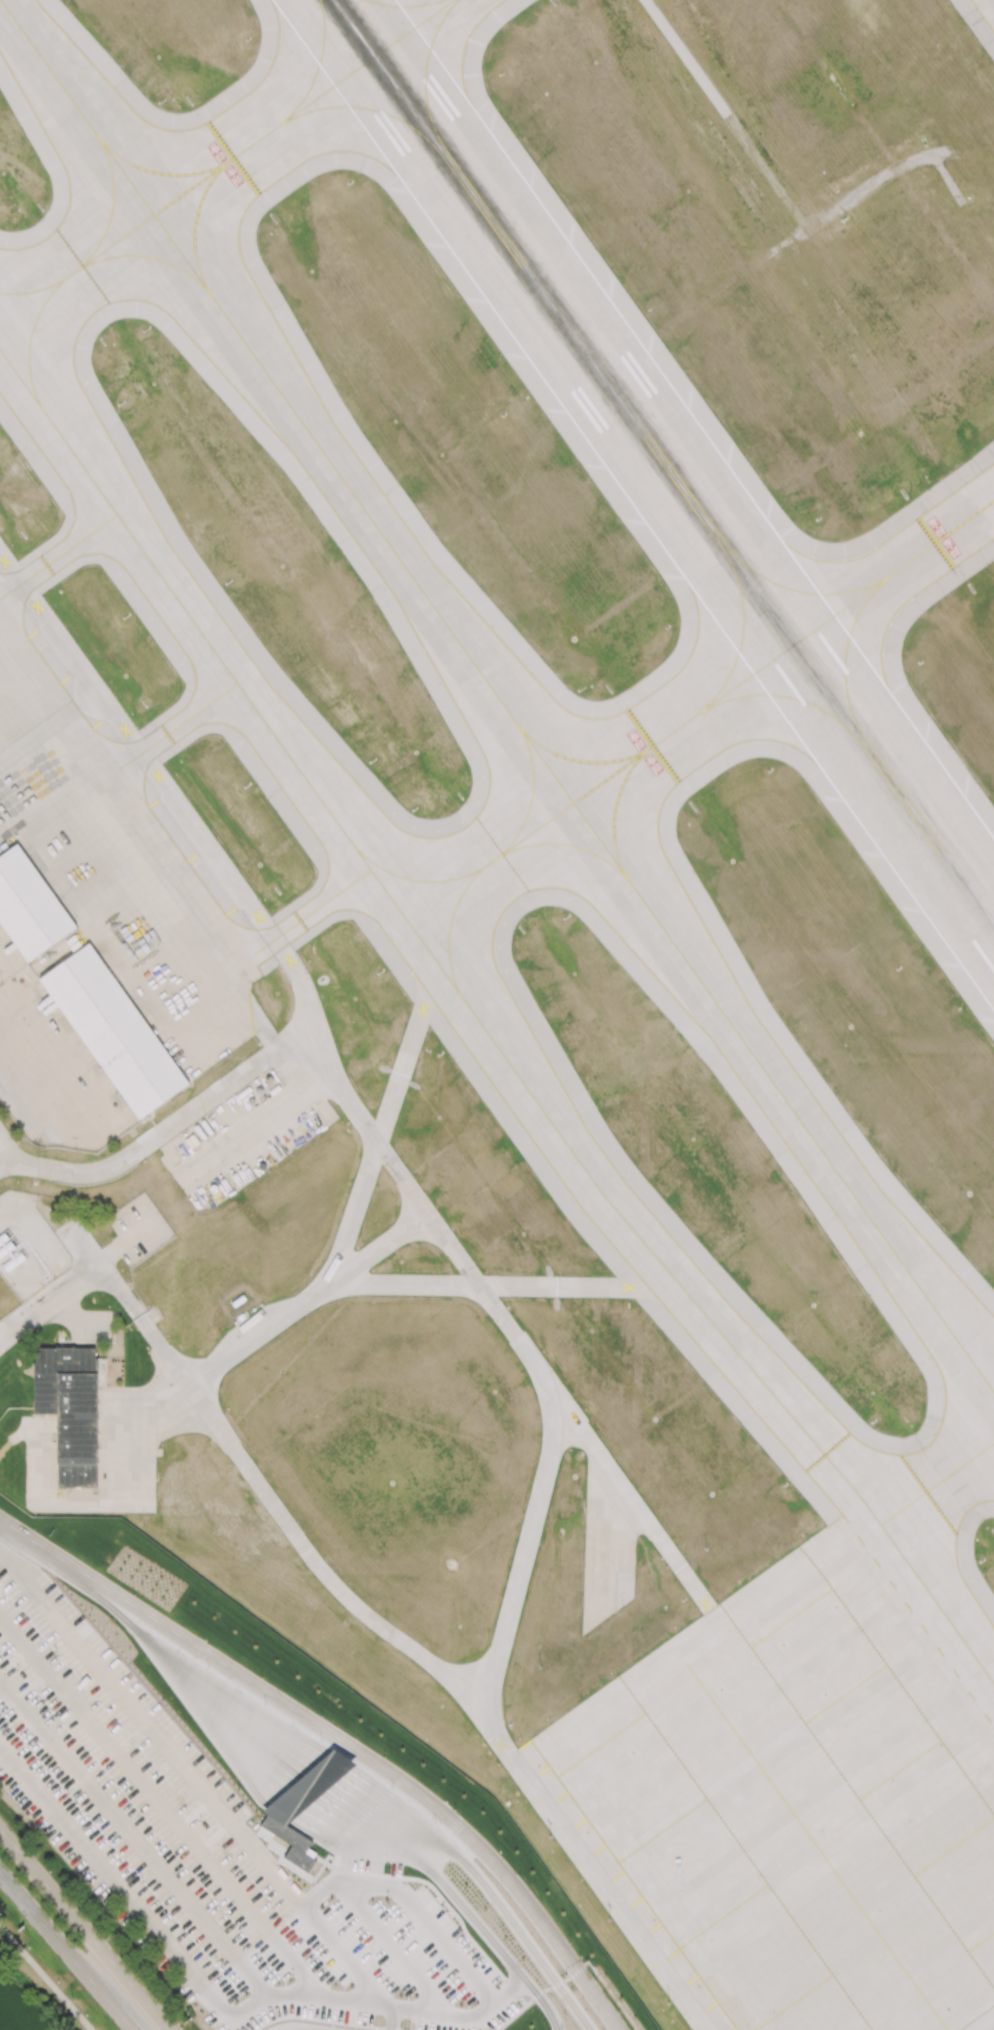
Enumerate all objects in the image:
airport taxiway: (404, 5)
airport taxiway: (319, 63)
airport taxiway: (426, 67)
airport taxiway: (364, 108)
airport taxiway: (230, 159)
airport taxiway: (160, 172)
road: (771, 176)
airport taxiway: (113, 202)
airport taxiway: (197, 217)
airport taxiway: (148, 257)
airport taxiway: (31, 339)
airport runway: (663, 462)
airport taxiway: (59, 555)
airport taxiway: (803, 590)
airport taxiway: (743, 637)
airport taxiway: (846, 652)
airport taxiway: (499, 696)
airport taxiway: (784, 697)
airport taxiway: (683, 724)
airport taxiway: (170, 733)
airport taxiway: (580, 759)
airport taxiway: (531, 794)
airport taxiway: (615, 811)
airport taxiway: (569, 844)
airport apron: (117, 869)
building: (28, 905)
airport taxiway: (310, 918)
airport taxiway: (450, 929)
road: (283, 954)
airport: (501, 1004)
airport taxiway: (482, 1027)
building: (112, 1030)
road: (27, 1082)
road: (381, 1124)
road: (257, 1127)
road: (166, 1129)
building: (4, 1236)
road: (127, 1239)
building: (7, 1247)
road: (89, 1247)
building: (13, 1261)
road: (505, 1286)
road: (307, 1299)
road: (52, 1305)
road: (78, 1321)
flagpole: (60, 1335)
road: (60, 1342)
road: (86, 1342)
road: (155, 1405)
building: (70, 1410)
road: (574, 1422)
road: (109, 1423)
road: (31, 1430)
airport taxiway: (937, 1485)
road: (85, 1500)
road: (276, 1509)
road: (29, 1538)
road: (660, 1542)
road: (609, 1543)
road: (8, 1562)
road: (77, 1570)
street lamp: (134, 1594)
road: (117, 1608)
street lamp: (55, 1651)
street lamp: (207, 1666)
street lamp: (263, 1677)
road: (235, 1691)
road: (244, 1703)
street lamp: (265, 1703)
road: (233, 1705)
road: (227, 1707)
street lamp: (164, 1709)
road: (228, 1716)
street lamp: (322, 1716)
road: (203, 1718)
road: (227, 1724)
road: (492, 1726)
road: (225, 1730)
road: (224, 1738)
street lamp: (321, 1740)
toll booth: (336, 1757)
street lamp: (385, 1757)
road: (338, 1758)
toll booth: (330, 1762)
road: (332, 1763)
toll booth: (323, 1769)
road: (324, 1770)
road: (388, 1772)
toll booth: (315, 1775)
road: (317, 1776)
toll booth: (308, 1782)
road: (310, 1783)
building: (307, 1785)
street lamp: (392, 1786)
road: (203, 1788)
toll booth: (301, 1788)
road: (303, 1789)
airport apron: (798, 1792)
toll booth: (293, 1794)
road: (295, 1795)
street lamp: (239, 1796)
toll booth: (284, 1802)
road: (287, 1803)
road: (402, 1803)
road: (159, 1805)
road: (396, 1809)
toll booth: (275, 1810)
street lamp: (455, 1810)
road: (277, 1811)
road: (391, 1814)
road: (385, 1821)
street lamp: (435, 1822)
road: (381, 1826)
road: (347, 1830)
road: (364, 1830)
road: (390, 1838)
road: (134, 1839)
road: (341, 1840)
building: (290, 1842)
parking lot: (206, 1849)
street lamp: (324, 1850)
road: (348, 1850)
airport taxiway: (818, 1850)
street lamp: (36, 1852)
road: (310, 1852)
road: (454, 1852)
building: (309, 1853)
road: (403, 1855)
parking lot: (372, 1862)
street lamp: (387, 1862)
road: (426, 1865)
street lamp: (450, 1868)
street lamp: (142, 1880)
street lamp: (313, 1883)
street lamp: (501, 1885)
road: (320, 1890)
road: (440, 1897)
street lamp: (387, 1901)
road: (24, 1902)
street lamp: (444, 1907)
road: (428, 1922)
road: (83, 1930)
street lamp: (503, 1932)
road: (527, 1942)
street lamp: (570, 1944)
road: (391, 1945)
road: (499, 1949)
street lamp: (121, 1954)
road: (591, 1965)
road: (80, 1968)
street lamp: (216, 1968)
road: (45, 1978)
street lamp: (293, 1980)
park: (39, 1982)
traffic signals: (586, 1984)
road: (201, 1985)
road: (360, 1988)
road: (510, 1989)
street lamp: (551, 1995)
street lamp: (73, 1996)
street lamp: (475, 2004)
road: (512, 2017)
street lamp: (598, 2017)
road: (123, 2018)
road: (392, 2018)
road: (321, 2020)
building: (390, 2025)
road: (302, 2029)
road: (309, 2029)

